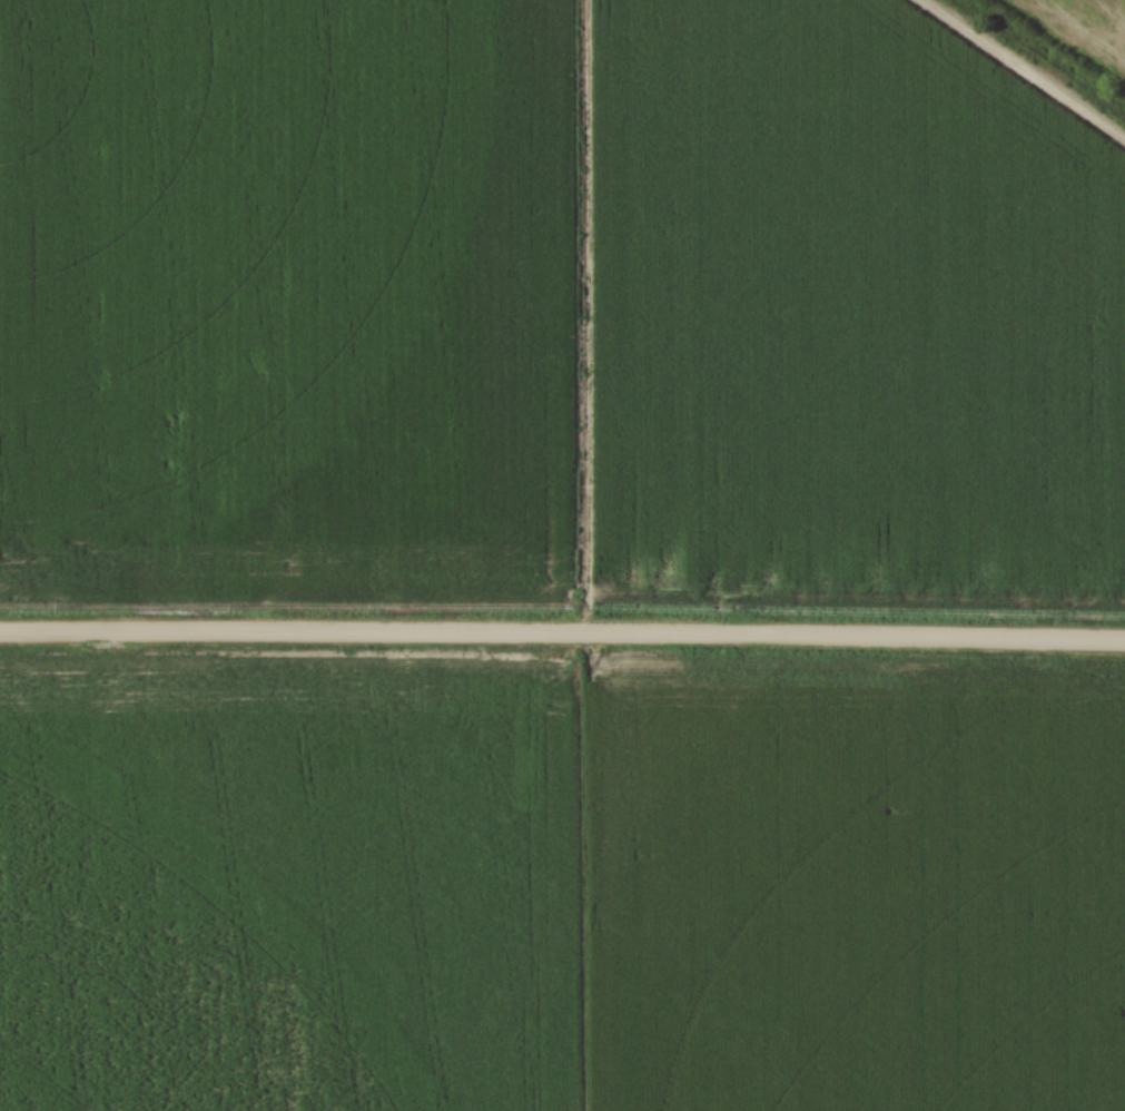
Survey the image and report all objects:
crop: (555, 305)
road: (562, 635)
crop: (560, 892)

